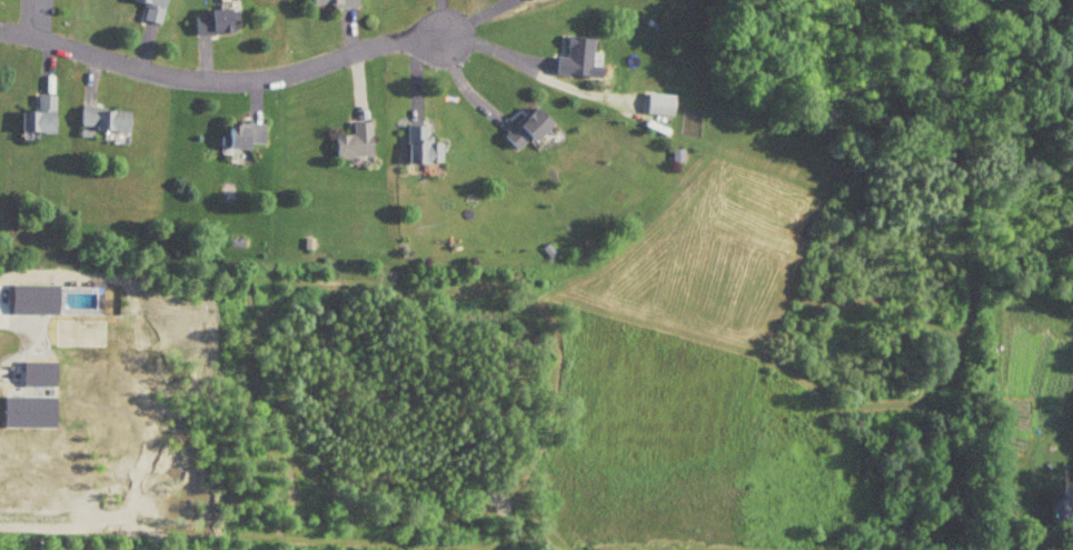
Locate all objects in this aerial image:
building: (329, 3)
building: (148, 10)
building: (211, 23)
road: (495, 51)
building: (570, 58)
road: (219, 78)
building: (657, 104)
building: (36, 117)
building: (101, 120)
building: (521, 129)
building: (239, 136)
building: (351, 143)
building: (418, 148)
road: (23, 340)
building: (1061, 507)

